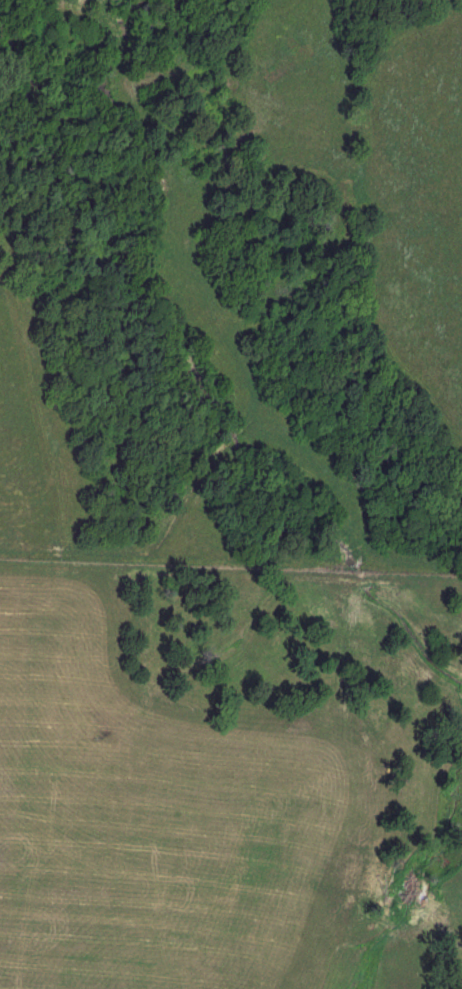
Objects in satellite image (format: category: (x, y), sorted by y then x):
crop: (174, 815)

